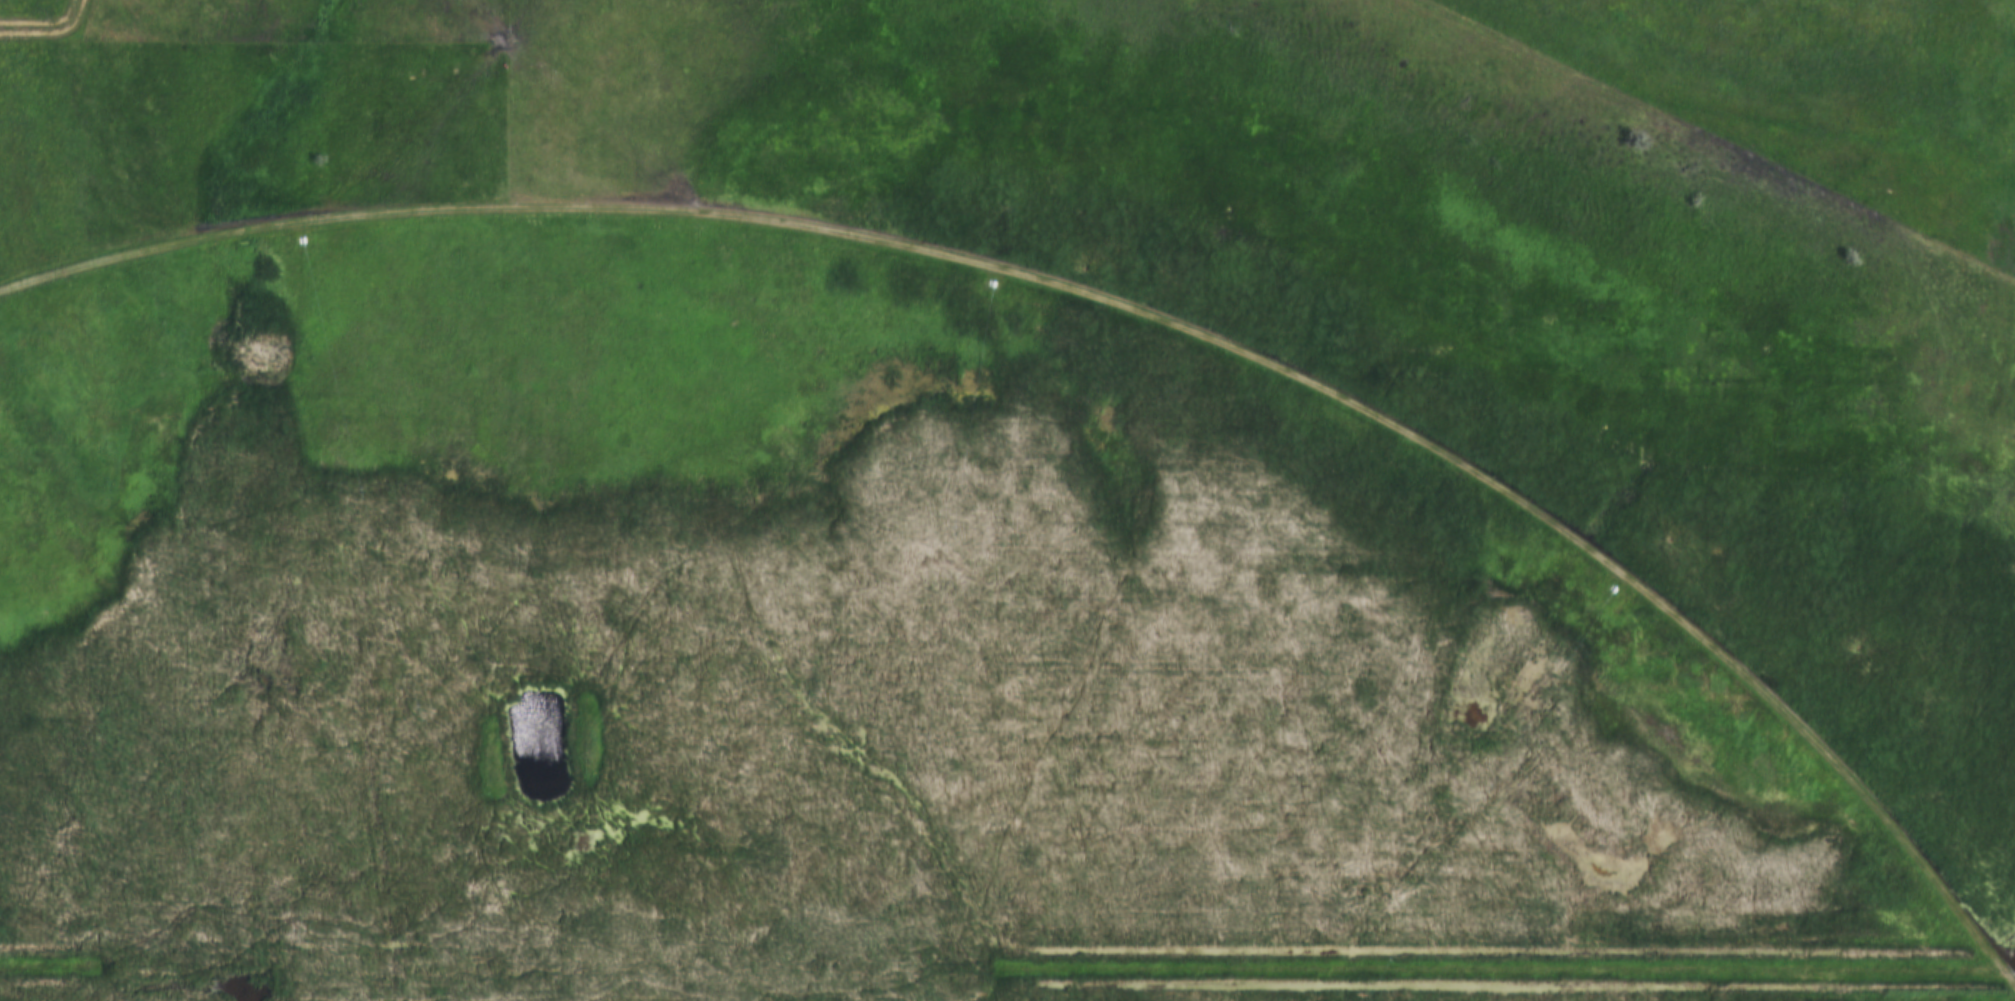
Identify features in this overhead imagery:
road: (1118, 301)
road: (1007, 967)

